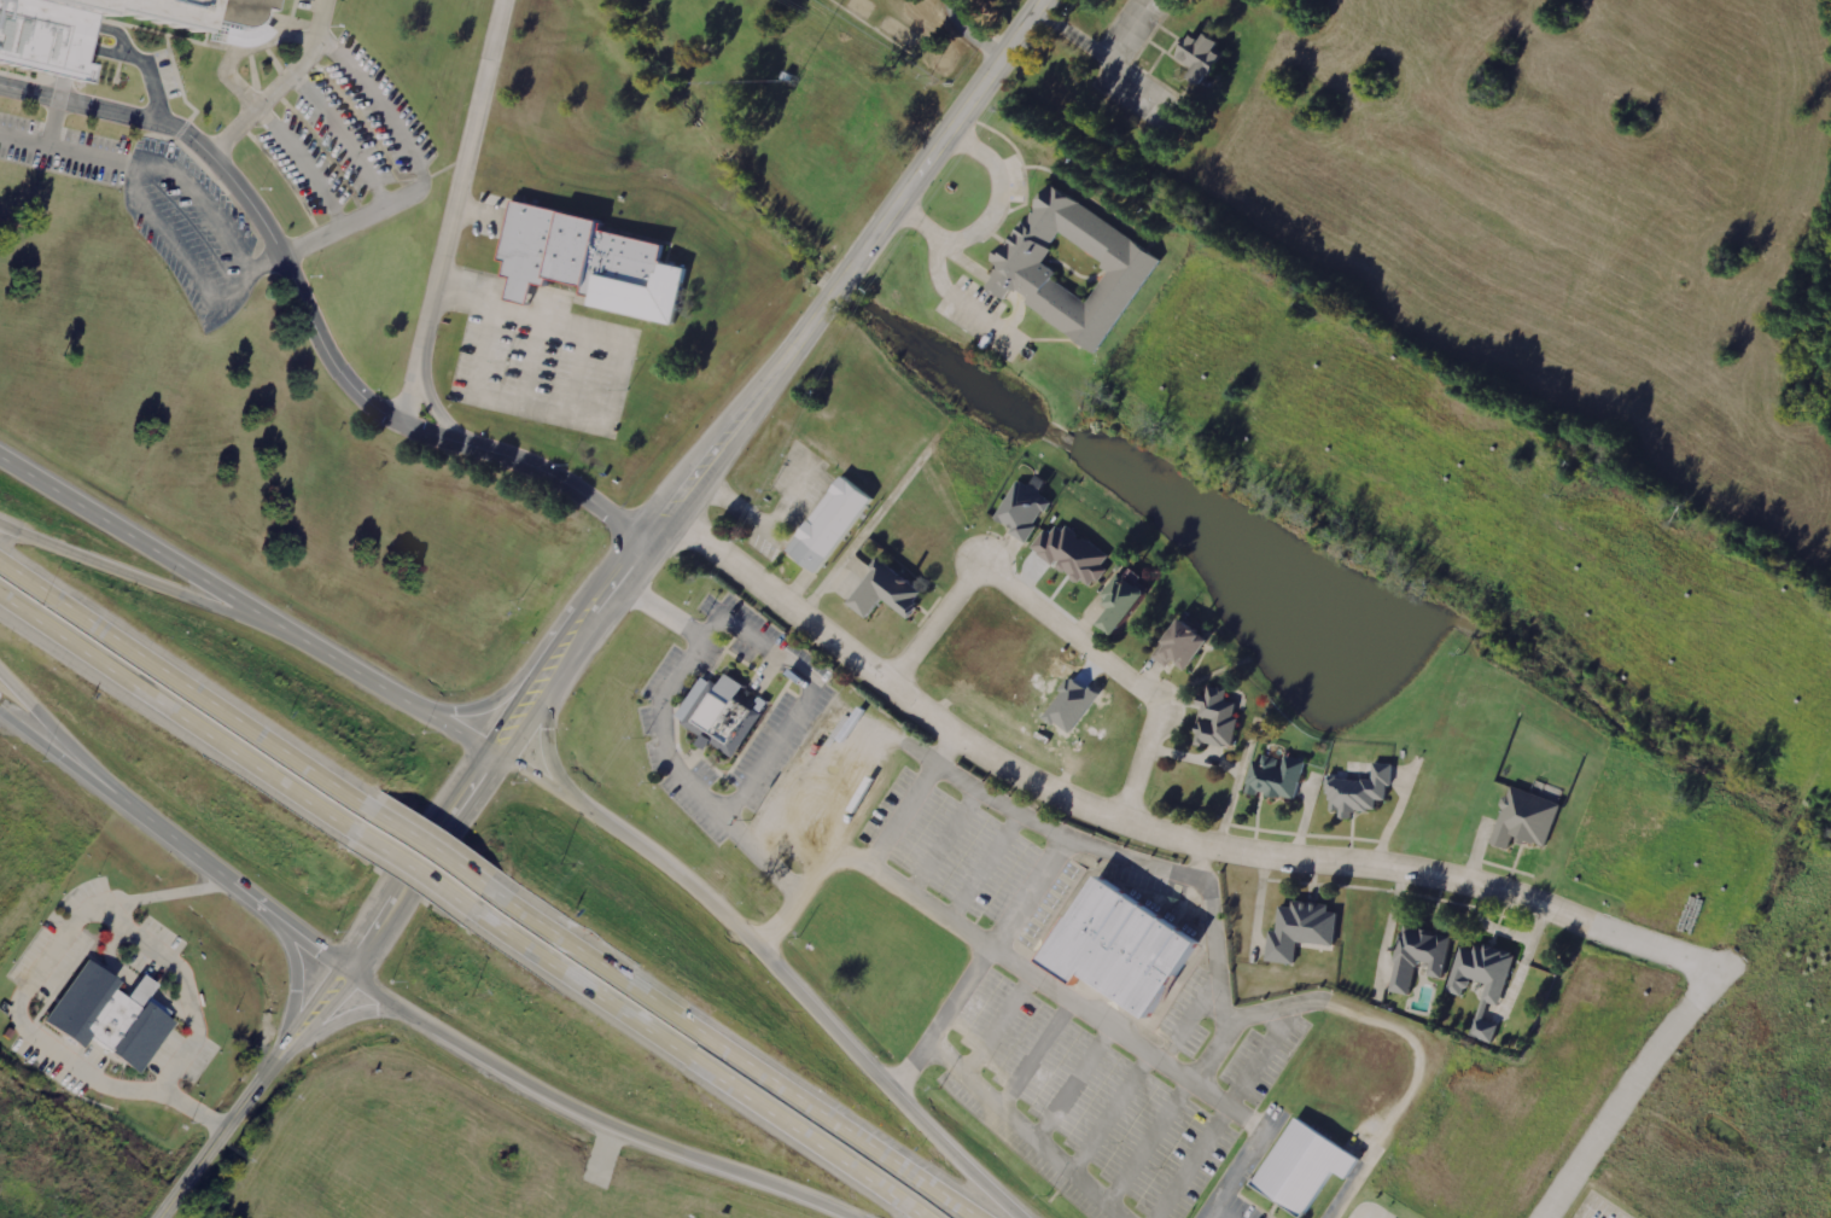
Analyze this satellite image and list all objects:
road: (322, 18)
road: (972, 34)
building: (45, 48)
building: (1206, 56)
road: (450, 209)
road: (992, 216)
road: (288, 249)
building: (589, 263)
building: (1073, 269)
road: (838, 284)
road: (311, 320)
building: (1020, 508)
building: (827, 523)
building: (1068, 554)
road: (152, 587)
building: (885, 590)
building: (1118, 600)
road: (250, 611)
road: (934, 623)
road: (1072, 630)
road: (547, 645)
building: (1174, 645)
road: (568, 662)
road: (181, 684)
road: (473, 703)
road: (171, 713)
building: (718, 713)
building: (1214, 717)
road: (664, 734)
road: (64, 740)
road: (552, 756)
road: (1137, 765)
building: (1271, 776)
building: (1355, 789)
building: (1520, 818)
road: (1154, 834)
road: (421, 843)
road: (177, 844)
road: (403, 868)
road: (380, 907)
road: (397, 917)
building: (1299, 929)
building: (1121, 944)
building: (1413, 955)
road: (780, 969)
road: (292, 989)
road: (1068, 992)
building: (1487, 997)
road: (940, 1013)
building: (106, 1015)
road: (348, 1016)
road: (729, 1050)
road: (690, 1062)
road: (1627, 1090)
road: (591, 1118)
road: (216, 1141)
building: (1300, 1166)

